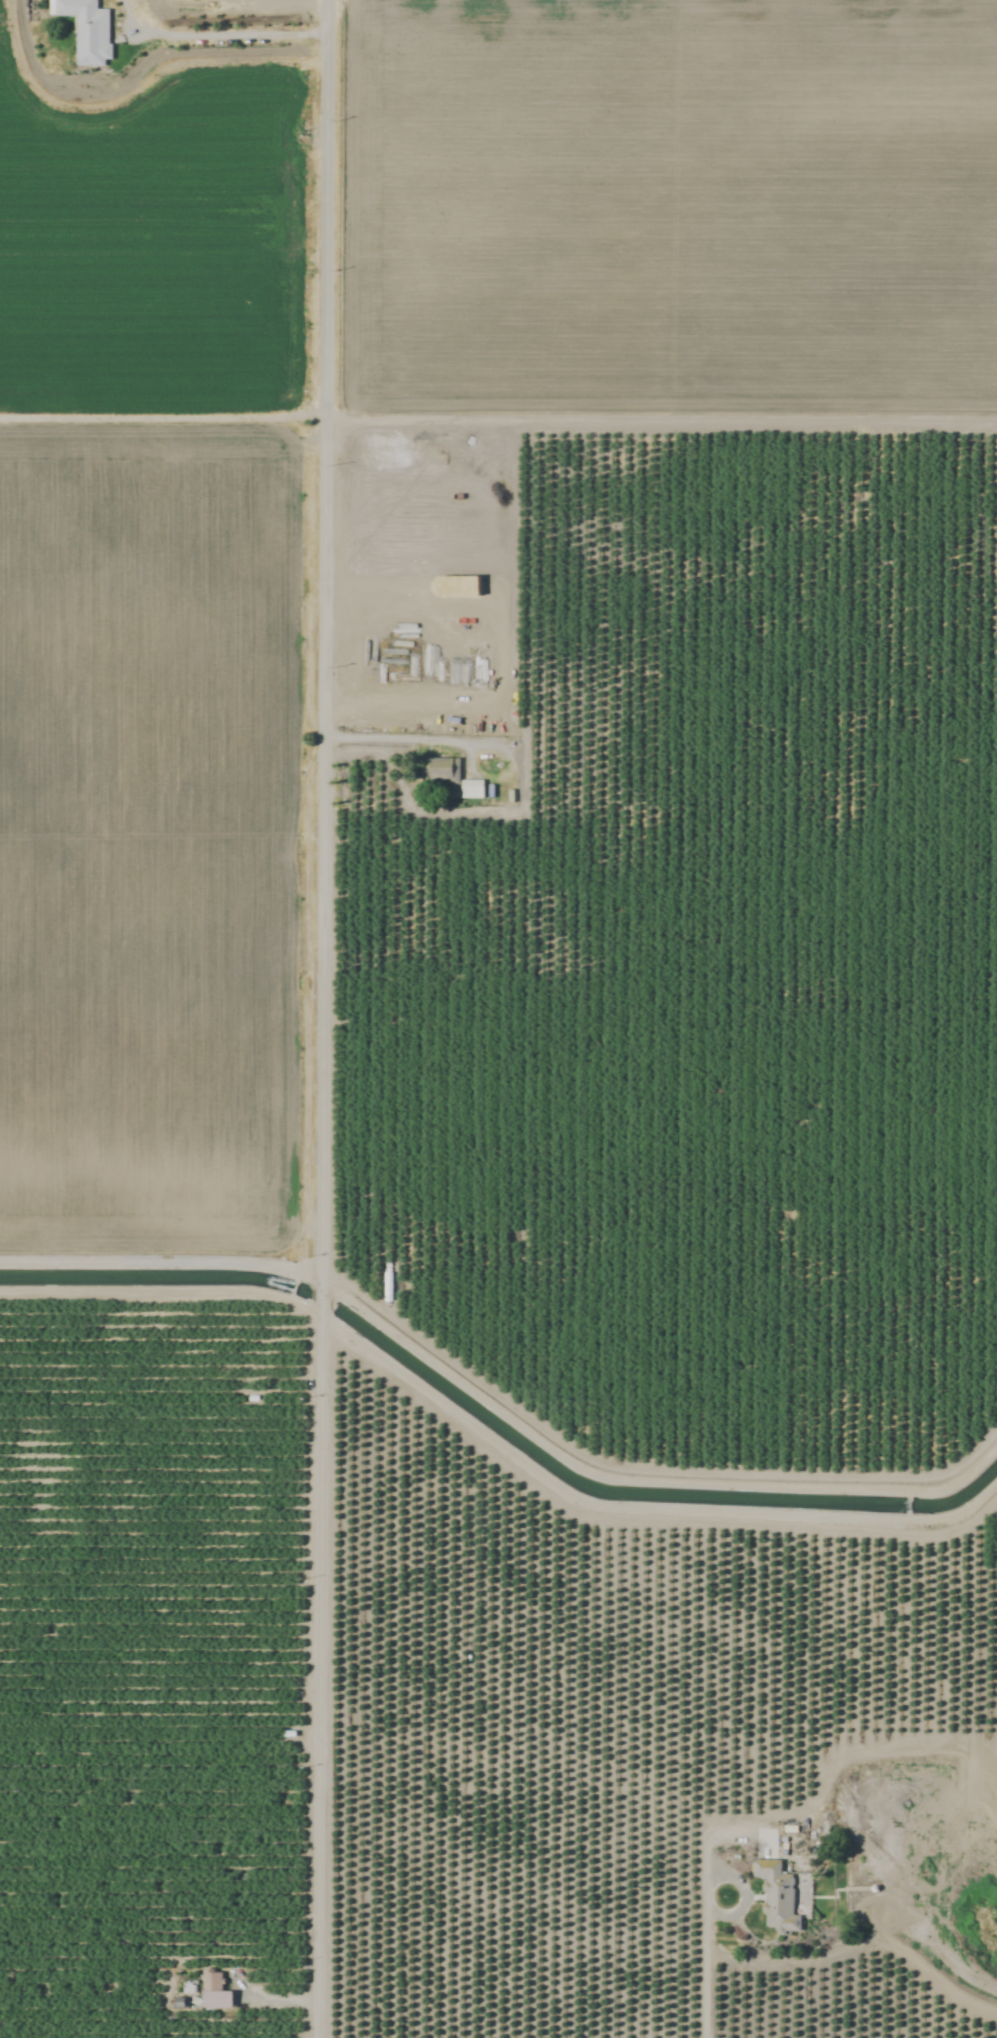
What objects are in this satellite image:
building: (87, 30)
road: (231, 33)
road: (325, 643)
building: (529, 721)
road: (418, 739)
building: (450, 780)
road: (163, 1289)
road: (322, 1298)
road: (321, 1674)
road: (738, 1875)
building: (778, 1897)
road: (706, 1970)
building: (213, 1982)

